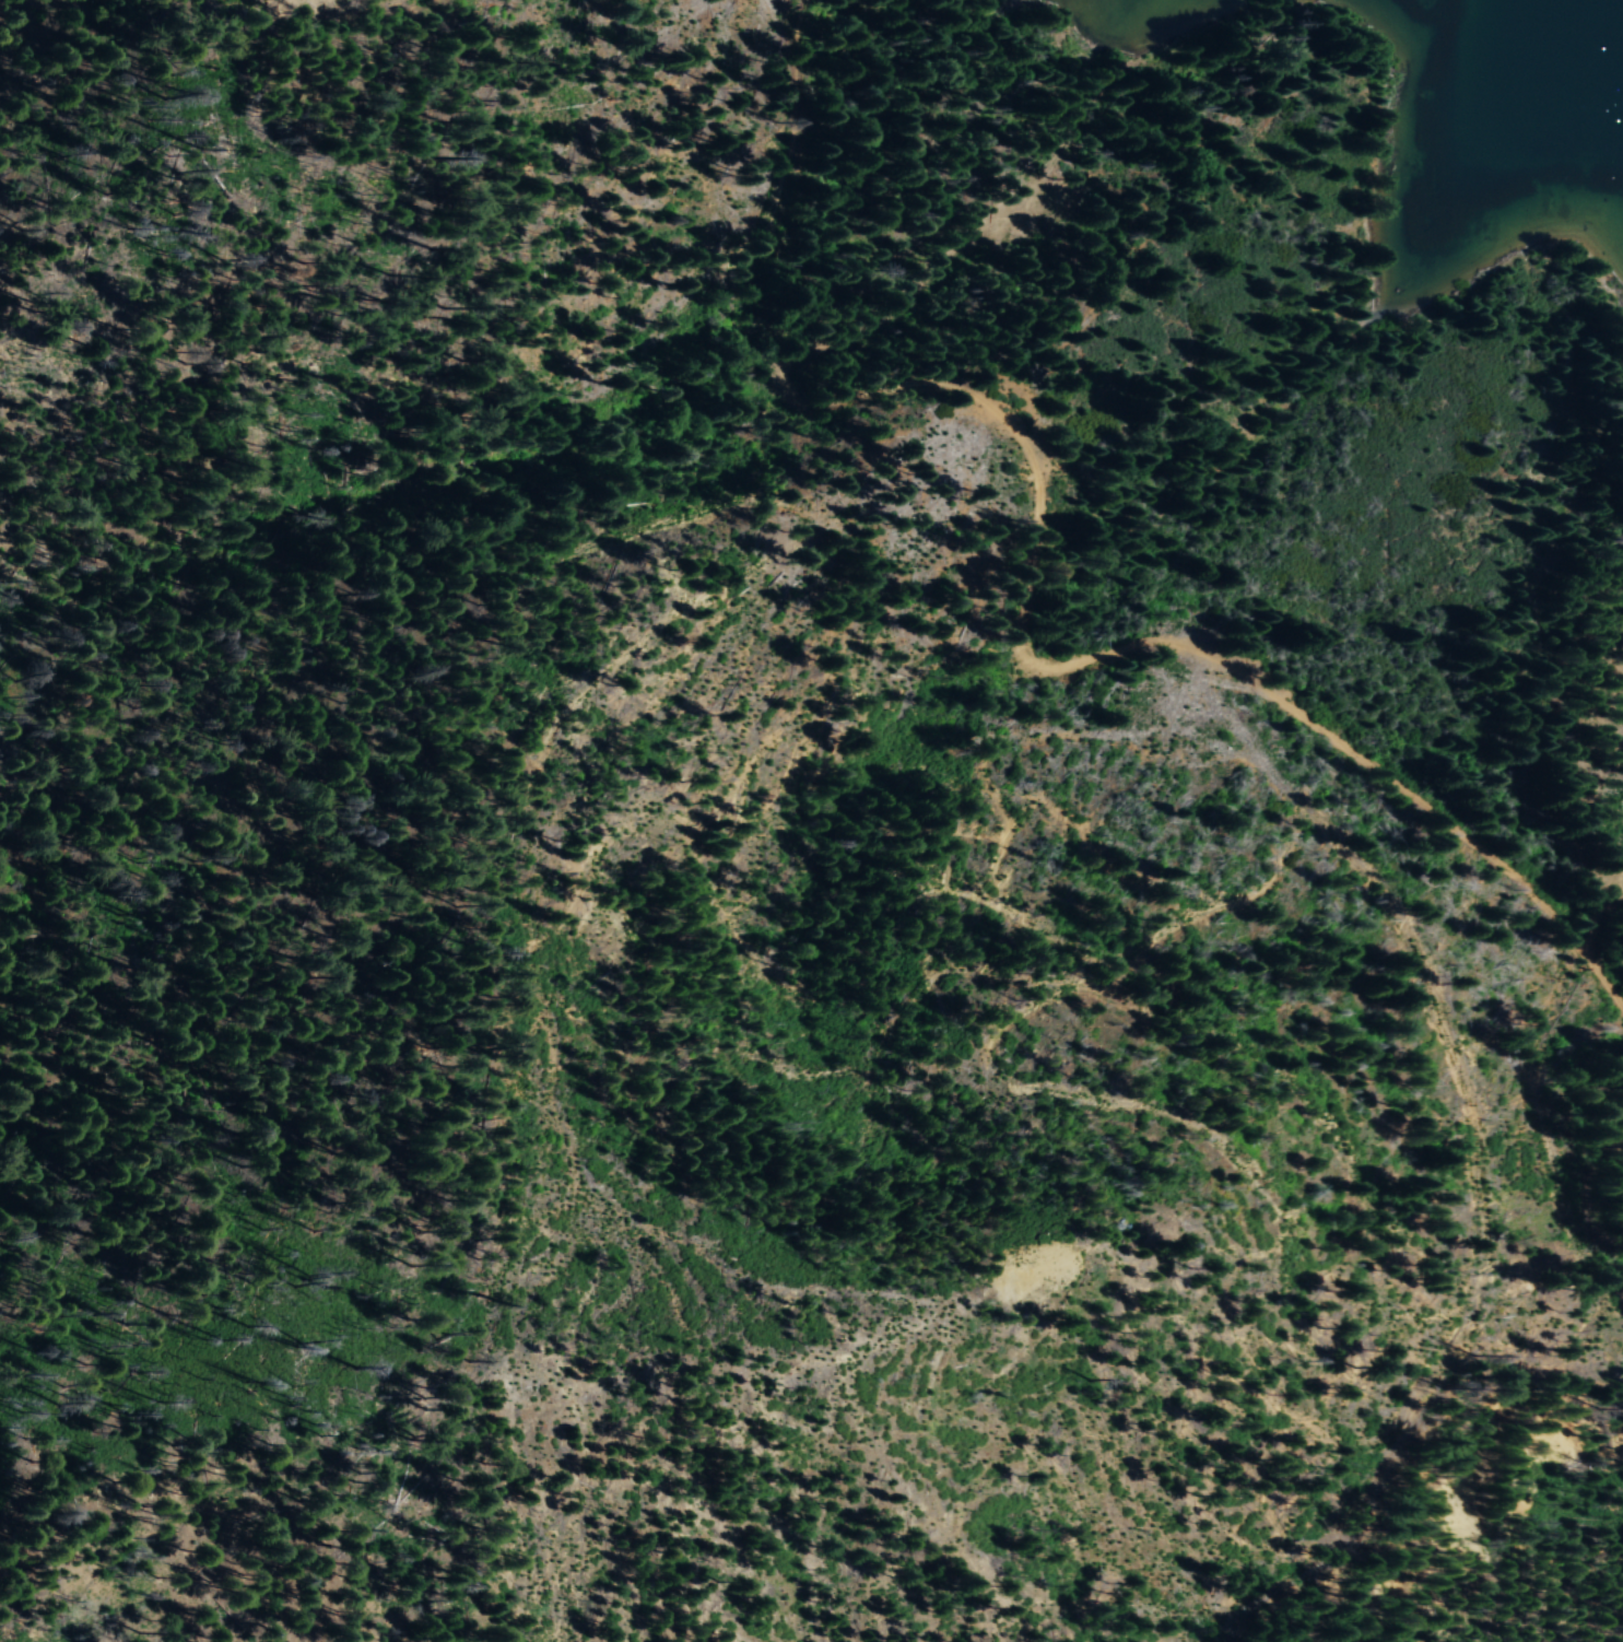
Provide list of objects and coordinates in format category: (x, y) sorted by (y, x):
road: (1004, 619)

